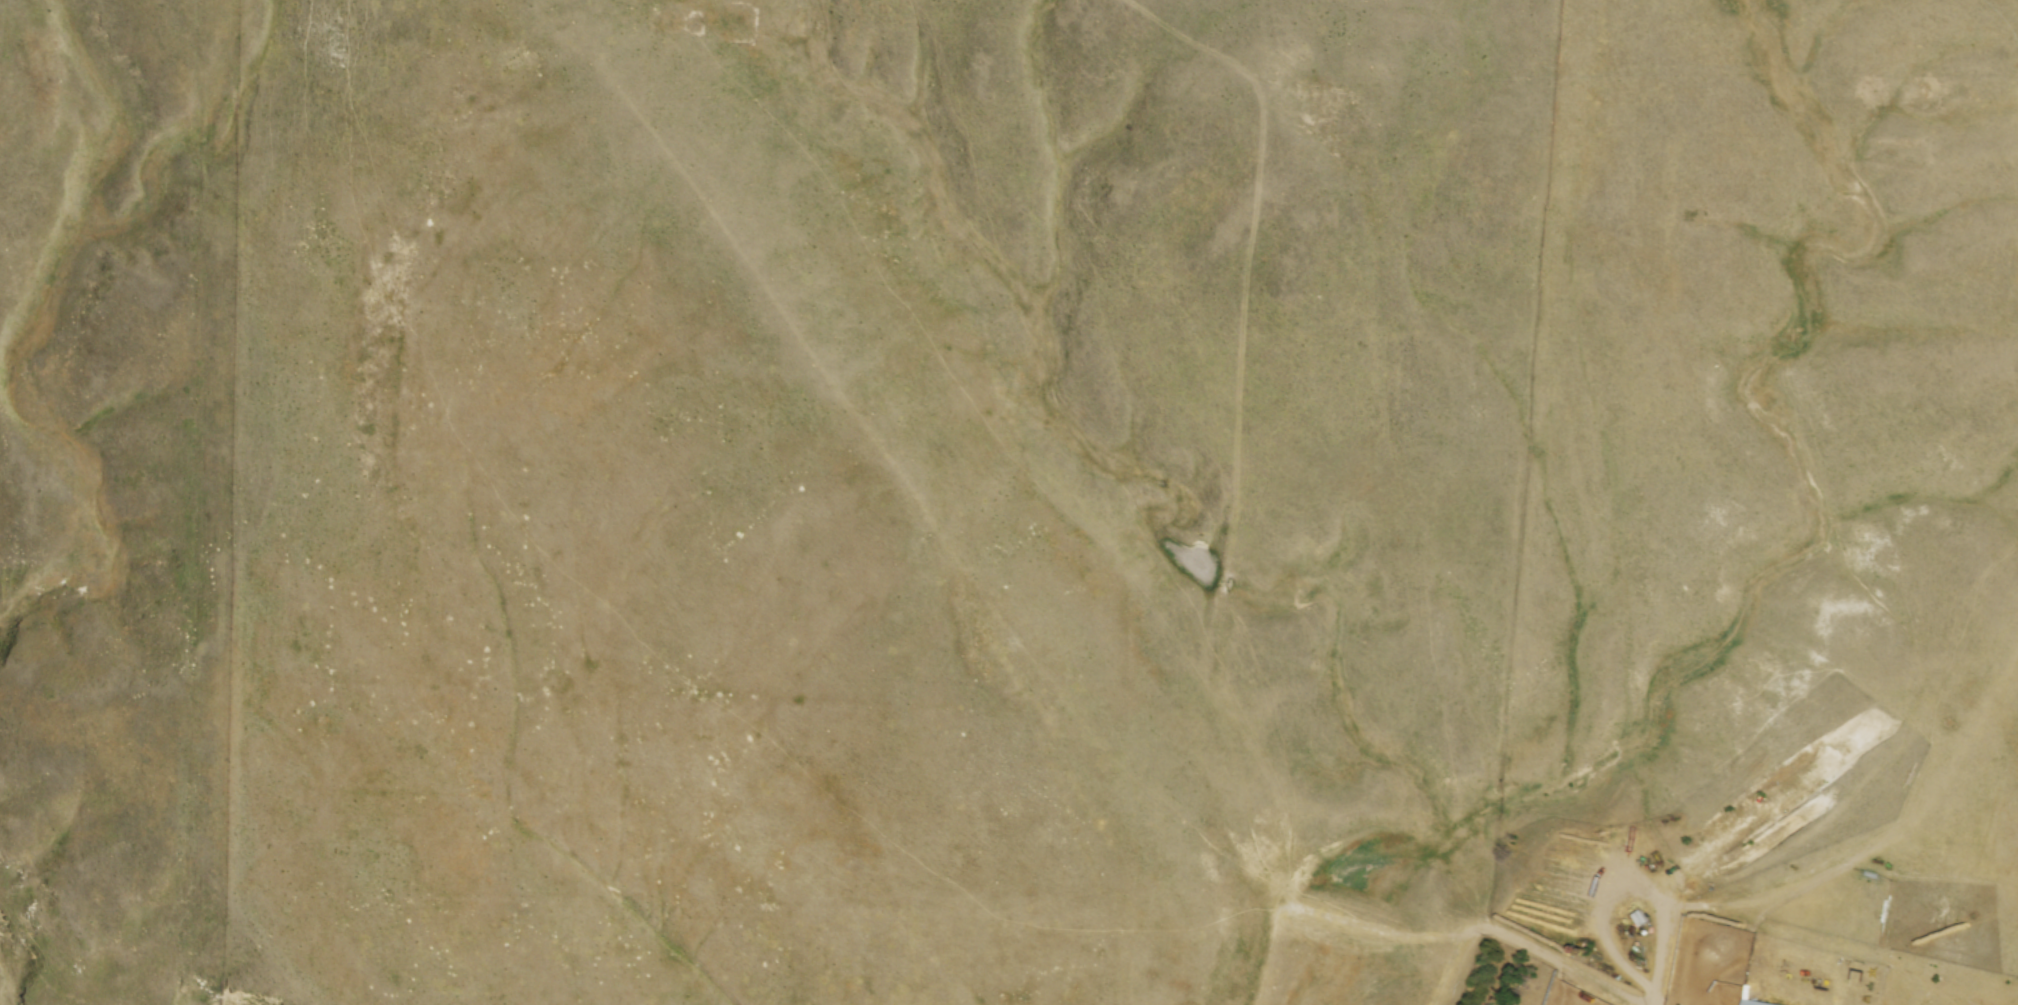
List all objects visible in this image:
building: (1761, 1002)

